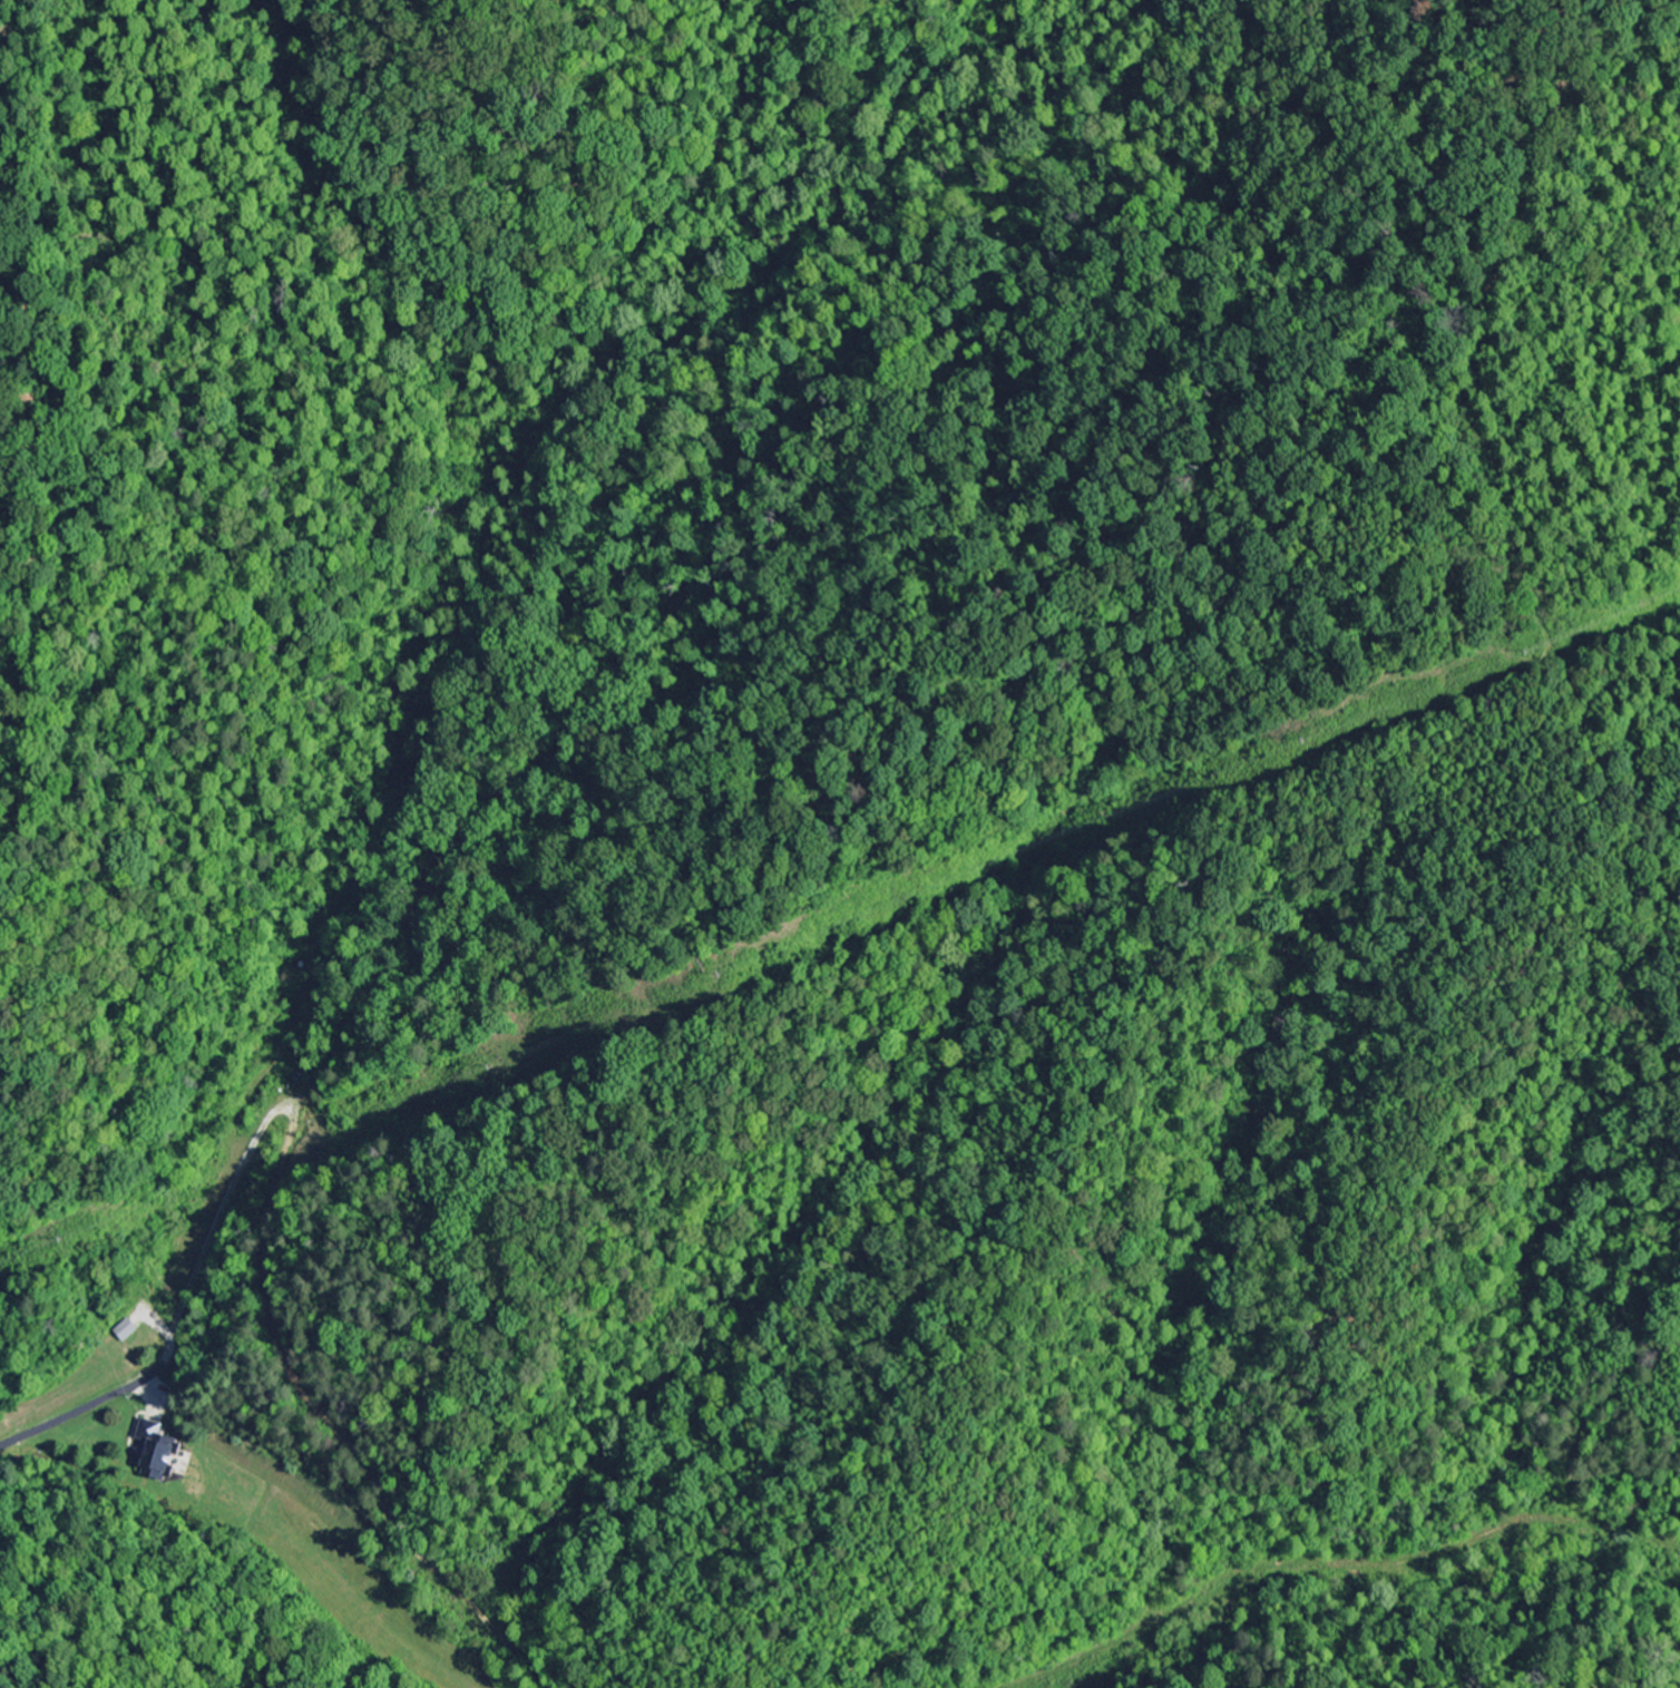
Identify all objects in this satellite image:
building: (128, 1331)
road: (1057, 1359)
road: (260, 1447)
building: (164, 1456)
road: (497, 1657)

